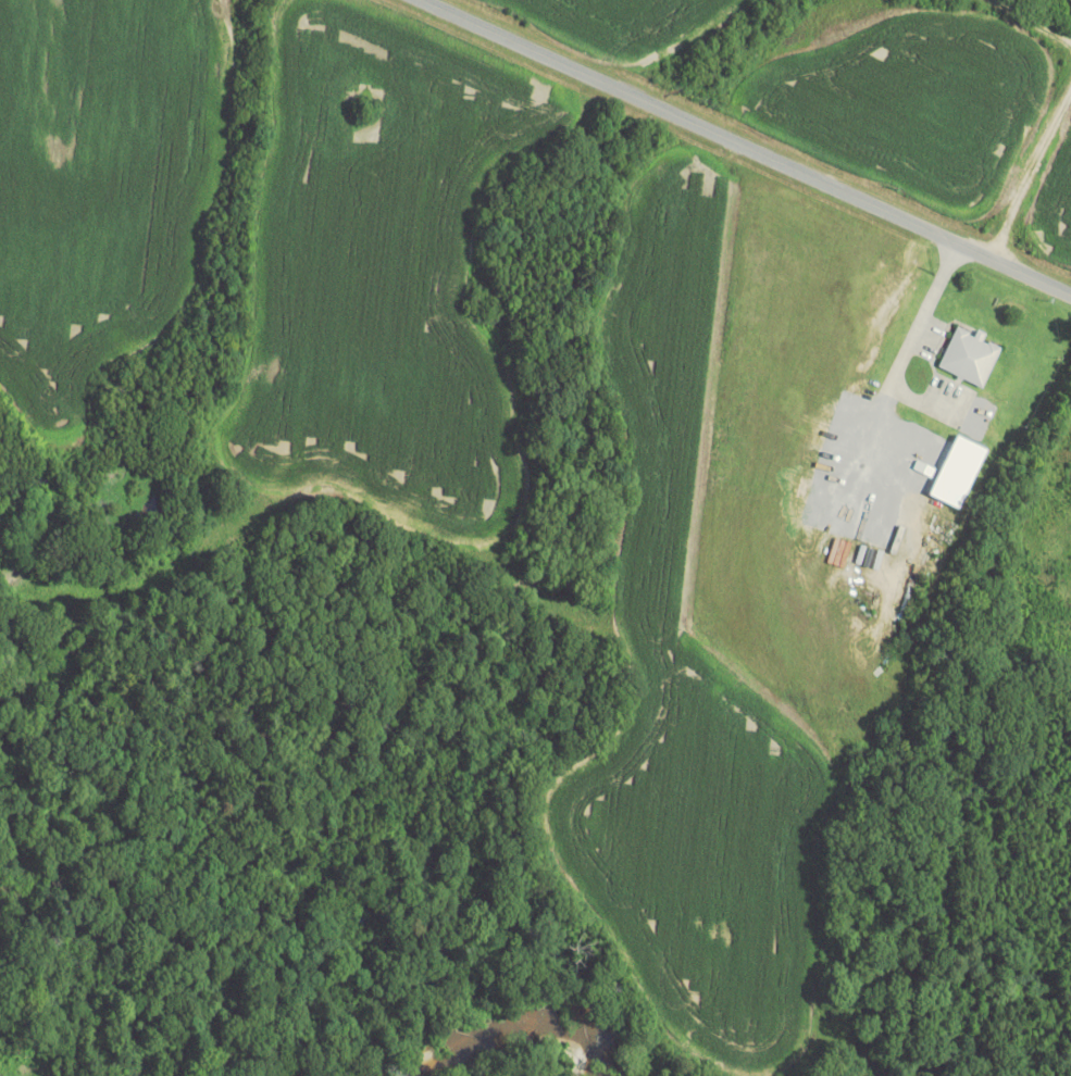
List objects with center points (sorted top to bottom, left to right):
road: (750, 146)
building: (969, 355)
building: (957, 471)
river: (528, 1029)

